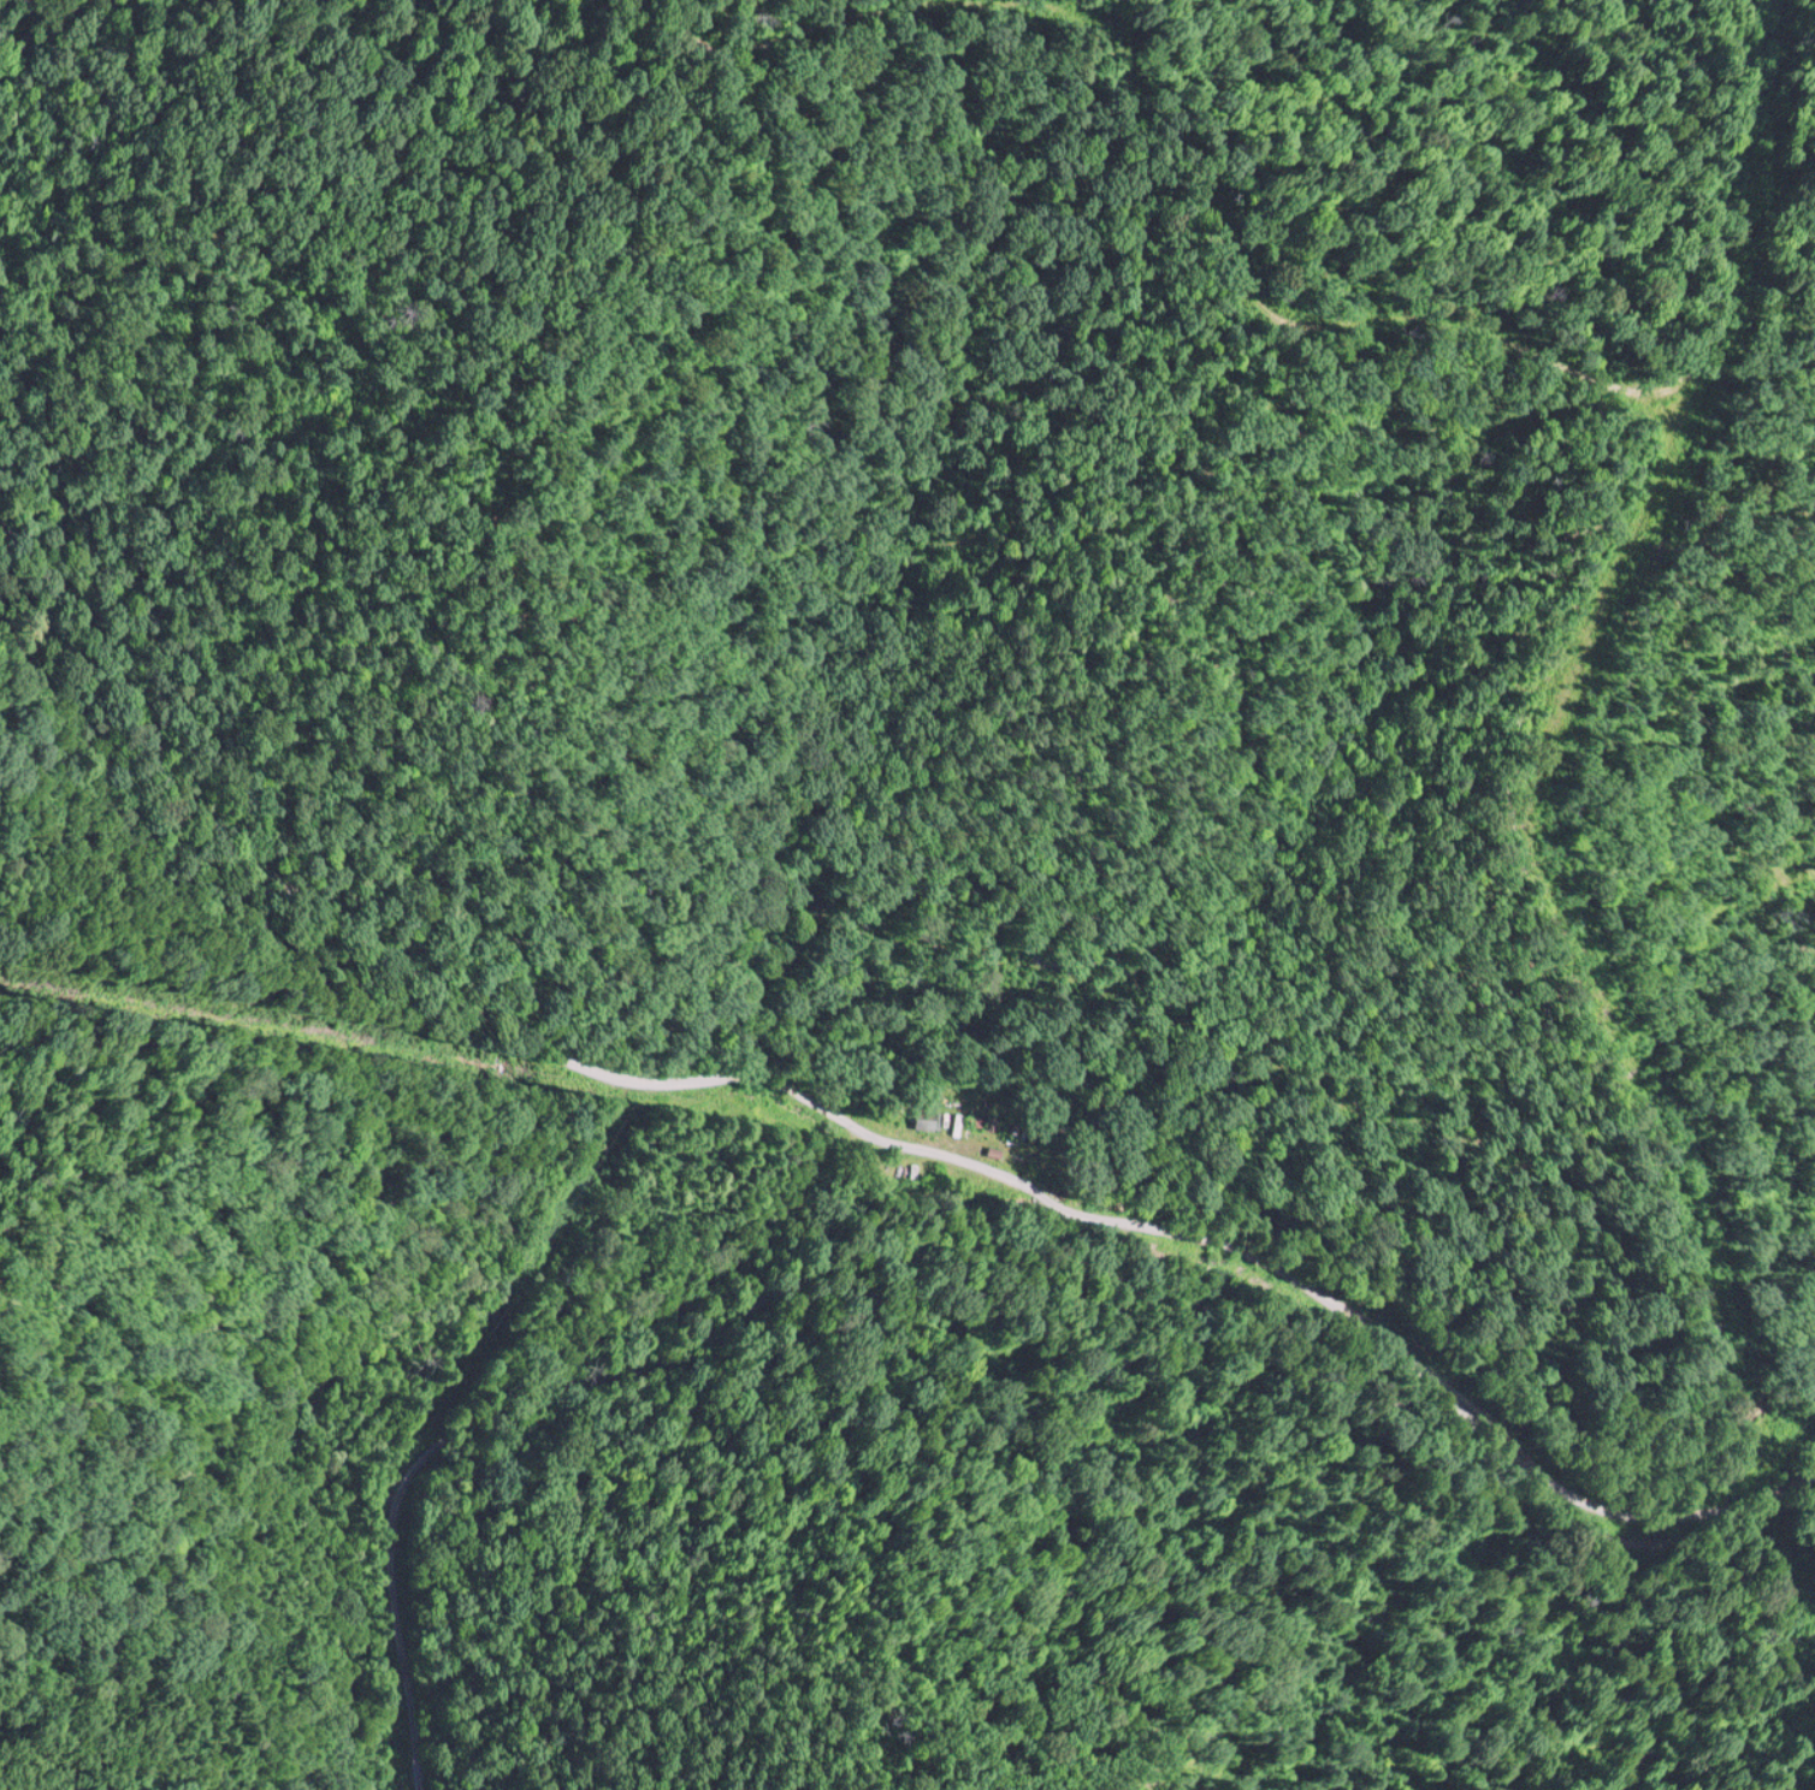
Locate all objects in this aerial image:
road: (32, 17)
road: (510, 985)
road: (631, 1346)
road: (1491, 1436)
road: (1798, 1470)

